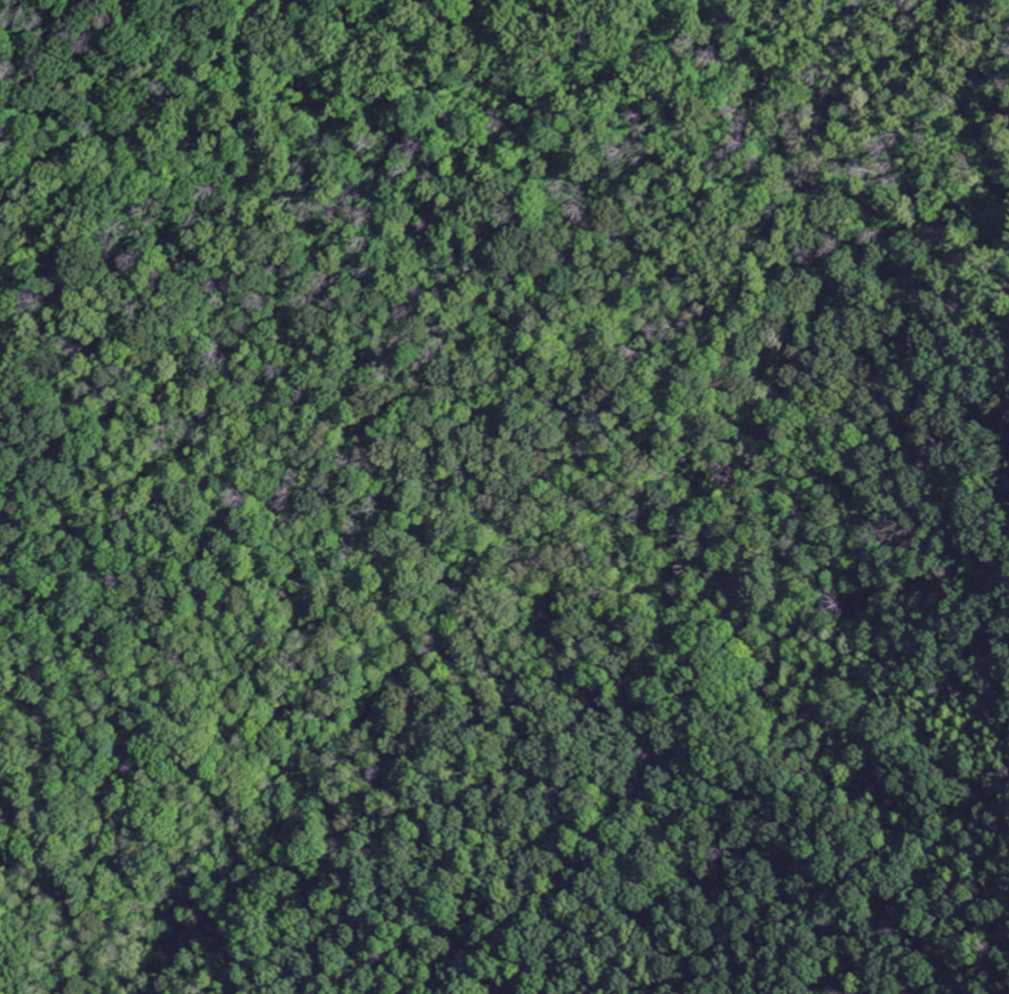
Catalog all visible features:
road: (217, 181)

